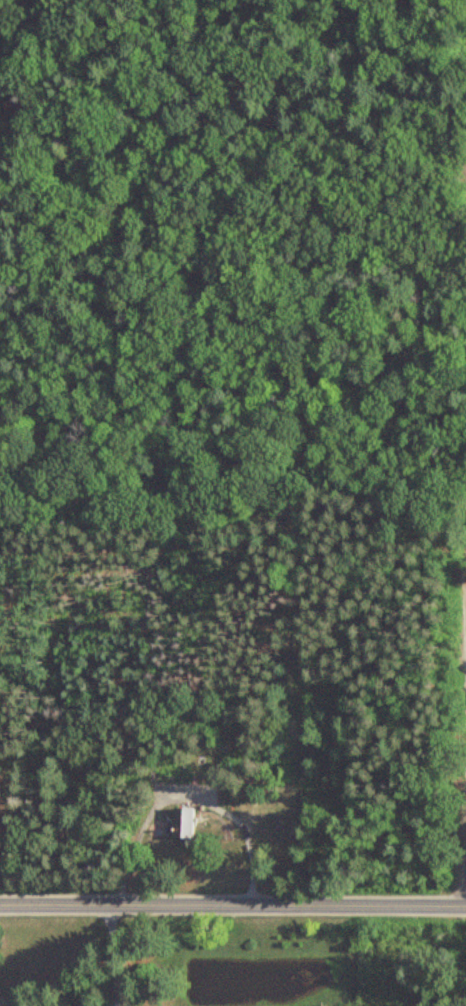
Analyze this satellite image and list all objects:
building: (186, 827)
road: (233, 903)

